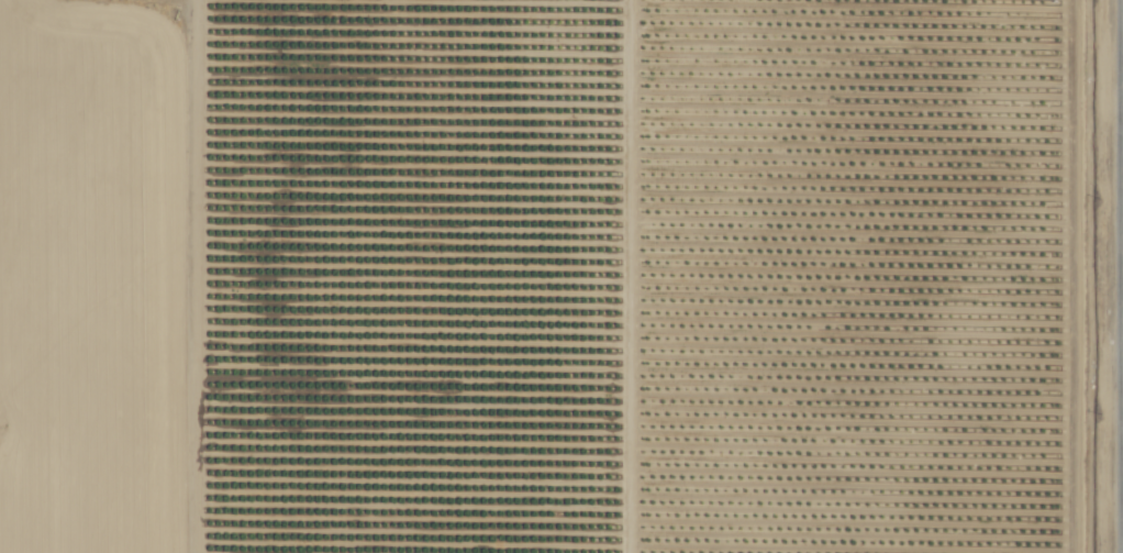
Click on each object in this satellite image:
road: (192, 276)
crop: (561, 276)
road: (1122, 276)

